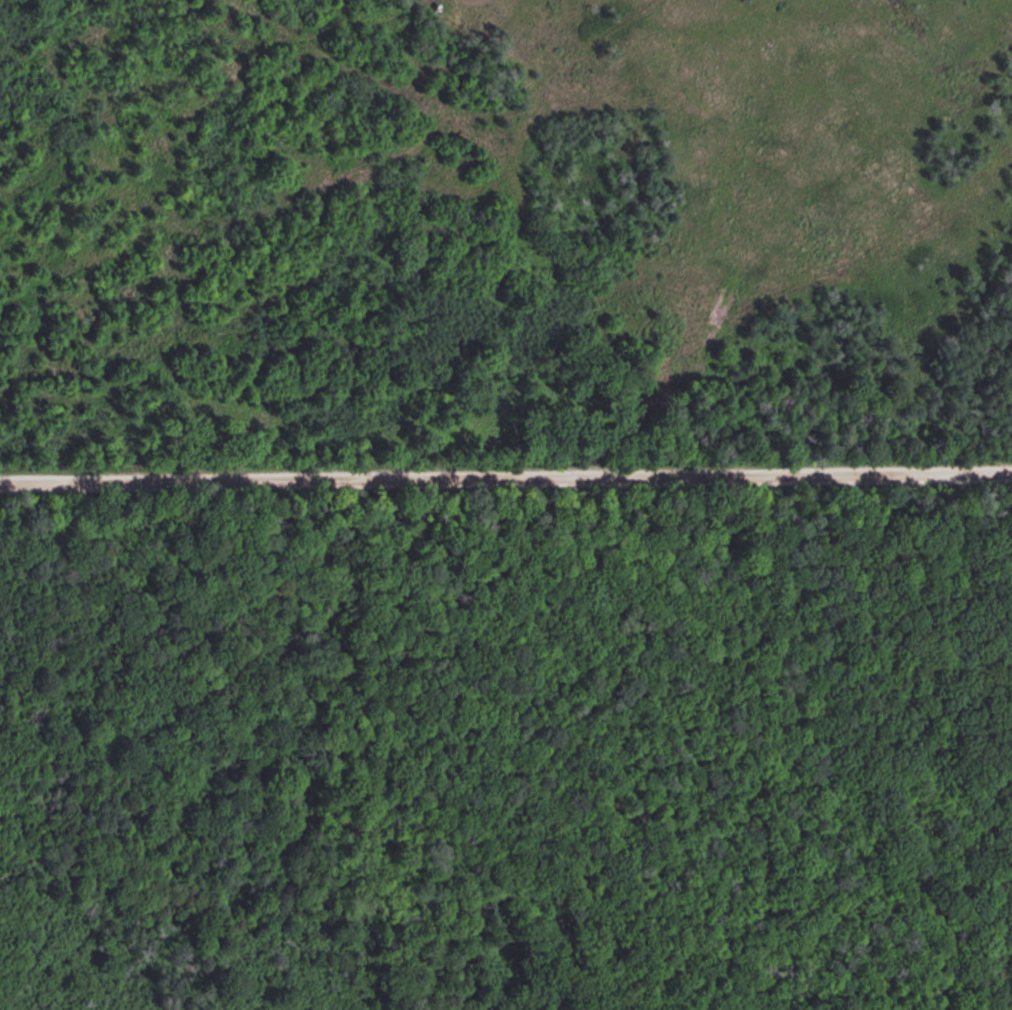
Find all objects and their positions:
road: (505, 470)

